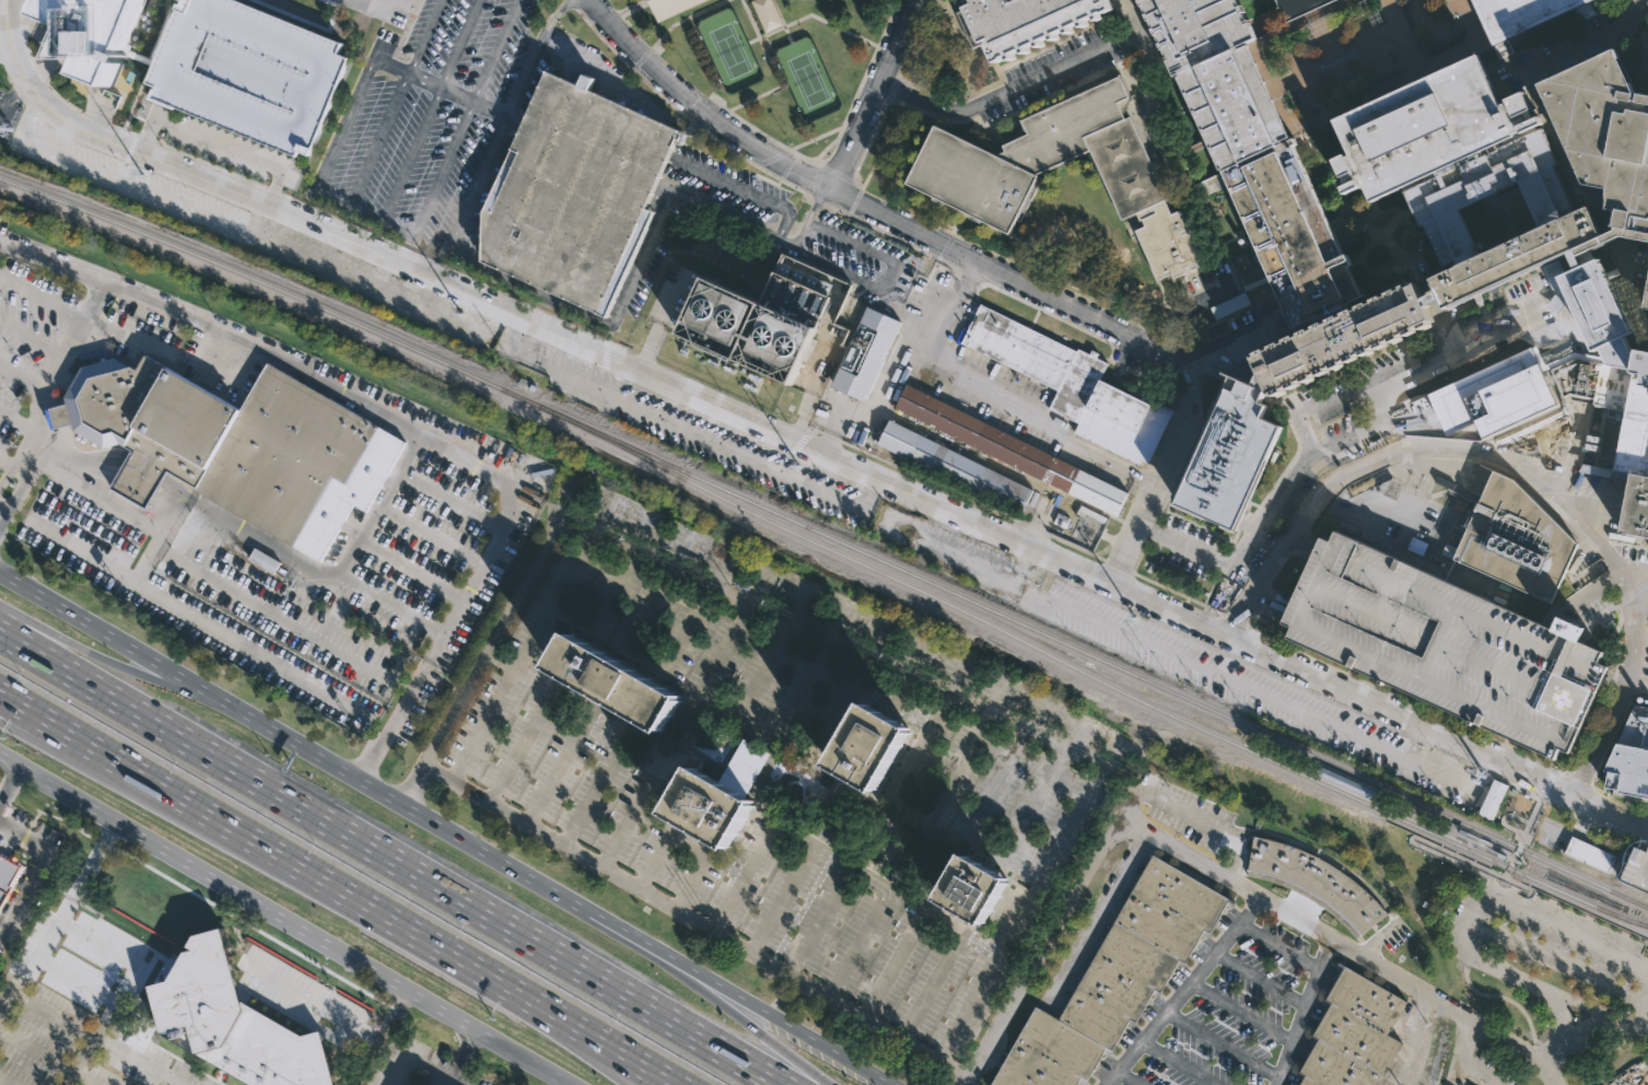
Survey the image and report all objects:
building: (670, 7)
building: (1296, 7)
road: (372, 8)
road: (632, 9)
building: (767, 13)
building: (1527, 13)
road: (32, 16)
road: (815, 16)
road: (688, 19)
road: (4, 20)
building: (1020, 20)
road: (22, 22)
building: (164, 27)
road: (28, 30)
building: (91, 32)
road: (791, 36)
road: (59, 40)
road: (52, 46)
road: (28, 50)
park: (1359, 50)
road: (1639, 50)
park: (729, 51)
building: (1359, 52)
road: (7, 54)
road: (529, 54)
parking lot: (1053, 69)
road: (42, 70)
building: (248, 70)
parking garage: (248, 70)
road: (775, 70)
road: (39, 73)
park: (807, 80)
road: (446, 91)
road: (998, 93)
road: (872, 94)
road: (14, 96)
road: (63, 101)
road: (395, 105)
road: (694, 107)
road: (430, 113)
parking lot: (434, 118)
road: (465, 119)
road: (95, 120)
building: (1429, 125)
road: (120, 130)
building: (1605, 131)
road: (143, 138)
road: (217, 144)
building: (1255, 153)
road: (588, 155)
road: (210, 164)
power tower: (138, 173)
building: (973, 174)
road: (318, 176)
road: (477, 186)
road: (272, 189)
building: (1486, 189)
building: (576, 190)
parking garage: (576, 190)
road: (253, 218)
road: (809, 218)
road: (733, 220)
road: (247, 233)
building: (1526, 254)
road: (958, 267)
road: (456, 271)
railway: (272, 285)
building: (1434, 296)
building: (1589, 297)
road: (39, 299)
building: (1647, 301)
building: (1228, 304)
road: (928, 306)
road: (85, 308)
building: (765, 318)
road: (604, 320)
road: (527, 323)
road: (657, 325)
road: (1110, 329)
building: (1343, 337)
road: (28, 339)
road: (606, 349)
building: (865, 352)
building: (1620, 352)
building: (1558, 361)
road: (957, 369)
building: (1073, 384)
building: (1500, 387)
road: (1386, 406)
building: (1451, 409)
building: (1614, 425)
road: (26, 427)
road: (821, 442)
building: (234, 445)
building: (1013, 451)
road: (466, 452)
building: (1229, 455)
road: (11, 463)
building: (956, 467)
road: (8, 471)
road: (1518, 471)
road: (1146, 477)
parking lot: (250, 486)
road: (93, 489)
road: (15, 499)
road: (165, 506)
road: (4, 509)
building: (1080, 525)
building: (1518, 538)
road: (1305, 542)
road: (143, 551)
building: (264, 560)
road: (311, 569)
road: (257, 607)
road: (1172, 611)
road: (192, 616)
road: (534, 631)
building: (1446, 644)
parking garage: (1446, 644)
railway: (1092, 657)
building: (1172, 663)
road: (126, 666)
railway: (1089, 675)
building: (613, 685)
building: (1231, 687)
helipad: (1565, 698)
building: (1277, 711)
road: (1400, 715)
road: (479, 725)
building: (1323, 732)
road: (1486, 737)
building: (869, 746)
road: (517, 747)
building: (1631, 755)
road: (112, 756)
road: (1599, 759)
building: (1386, 760)
road: (112, 769)
parking lot: (779, 773)
road: (556, 777)
road: (9, 782)
road: (593, 791)
road: (1077, 791)
road: (1540, 796)
road: (635, 810)
building: (712, 810)
road: (1610, 814)
road: (1501, 817)
road: (1593, 821)
road: (443, 829)
road: (788, 838)
road: (689, 844)
road: (1505, 851)
building: (1591, 855)
road: (387, 860)
railway: (1504, 861)
road: (32, 868)
building: (1638, 871)
parking garage: (1638, 871)
building: (8, 873)
road: (1217, 873)
road: (1489, 878)
road: (1512, 880)
road: (867, 883)
building: (1316, 884)
road: (1509, 888)
building: (975, 890)
road: (1529, 891)
road: (383, 912)
road: (56, 918)
road: (284, 920)
road: (944, 920)
road: (819, 921)
road: (856, 943)
road: (1463, 945)
building: (1115, 980)
road: (319, 991)
road: (1180, 991)
road: (1305, 1012)
parking lot: (1232, 1016)
building: (232, 1018)
road: (740, 1020)
building: (1354, 1032)
road: (100, 1037)
road: (376, 1037)
road: (585, 1047)
road: (606, 1047)
road: (1557, 1054)
road: (47, 1057)
road: (456, 1057)
road: (1464, 1059)
road: (4, 1082)
road: (449, 1082)
building: (1639, 1084)

